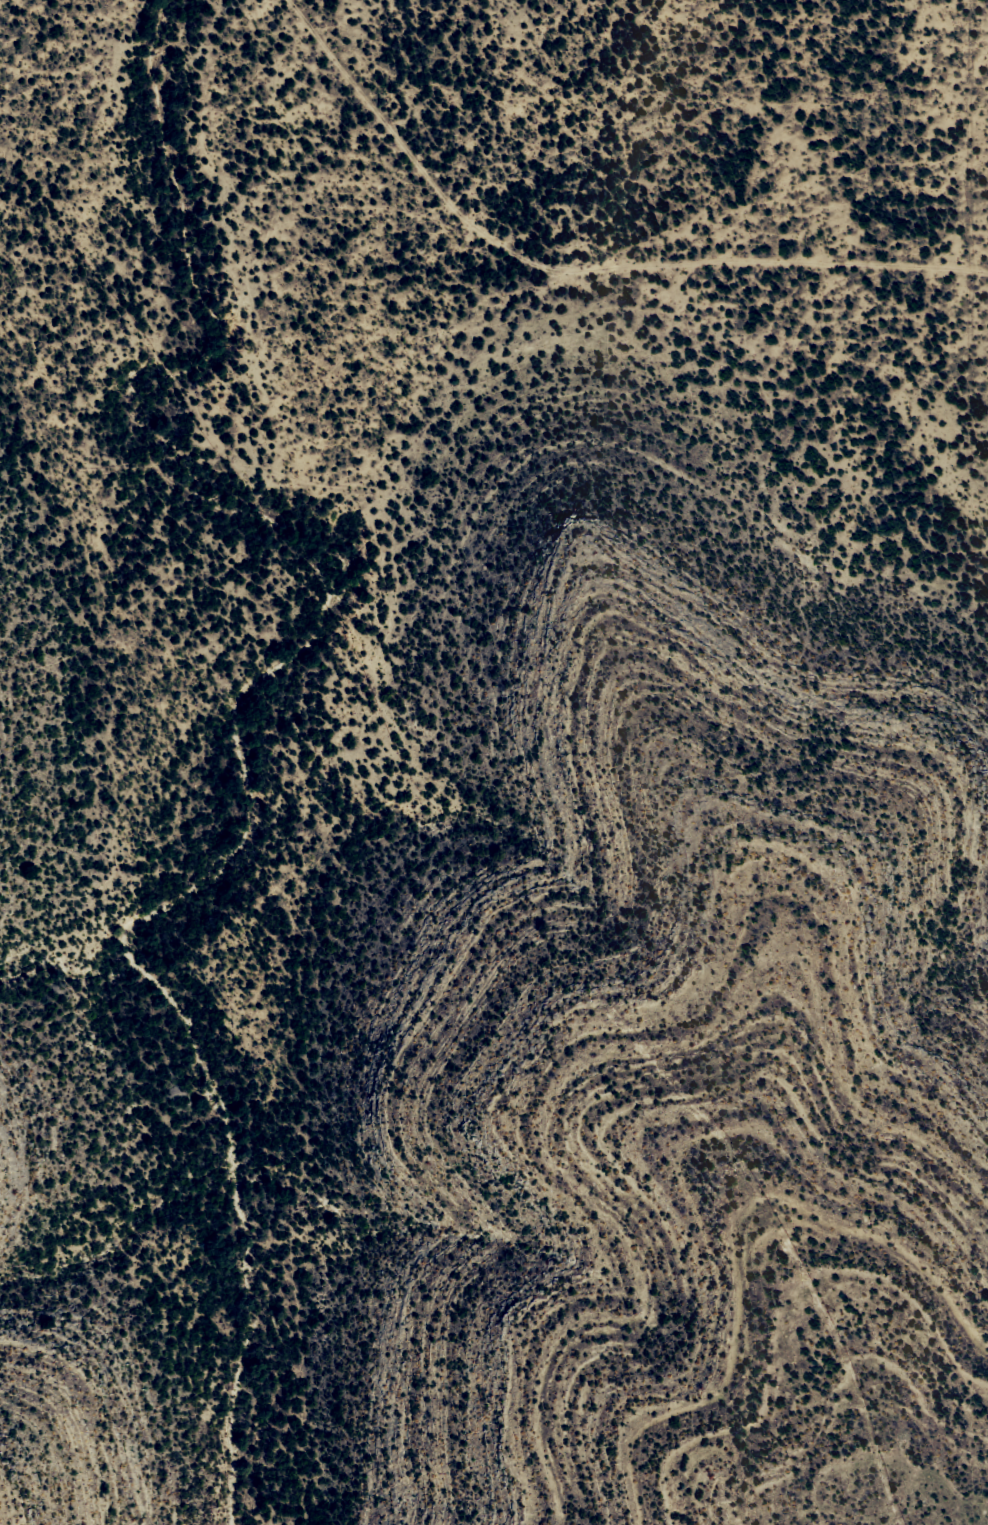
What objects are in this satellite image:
road: (417, 857)

